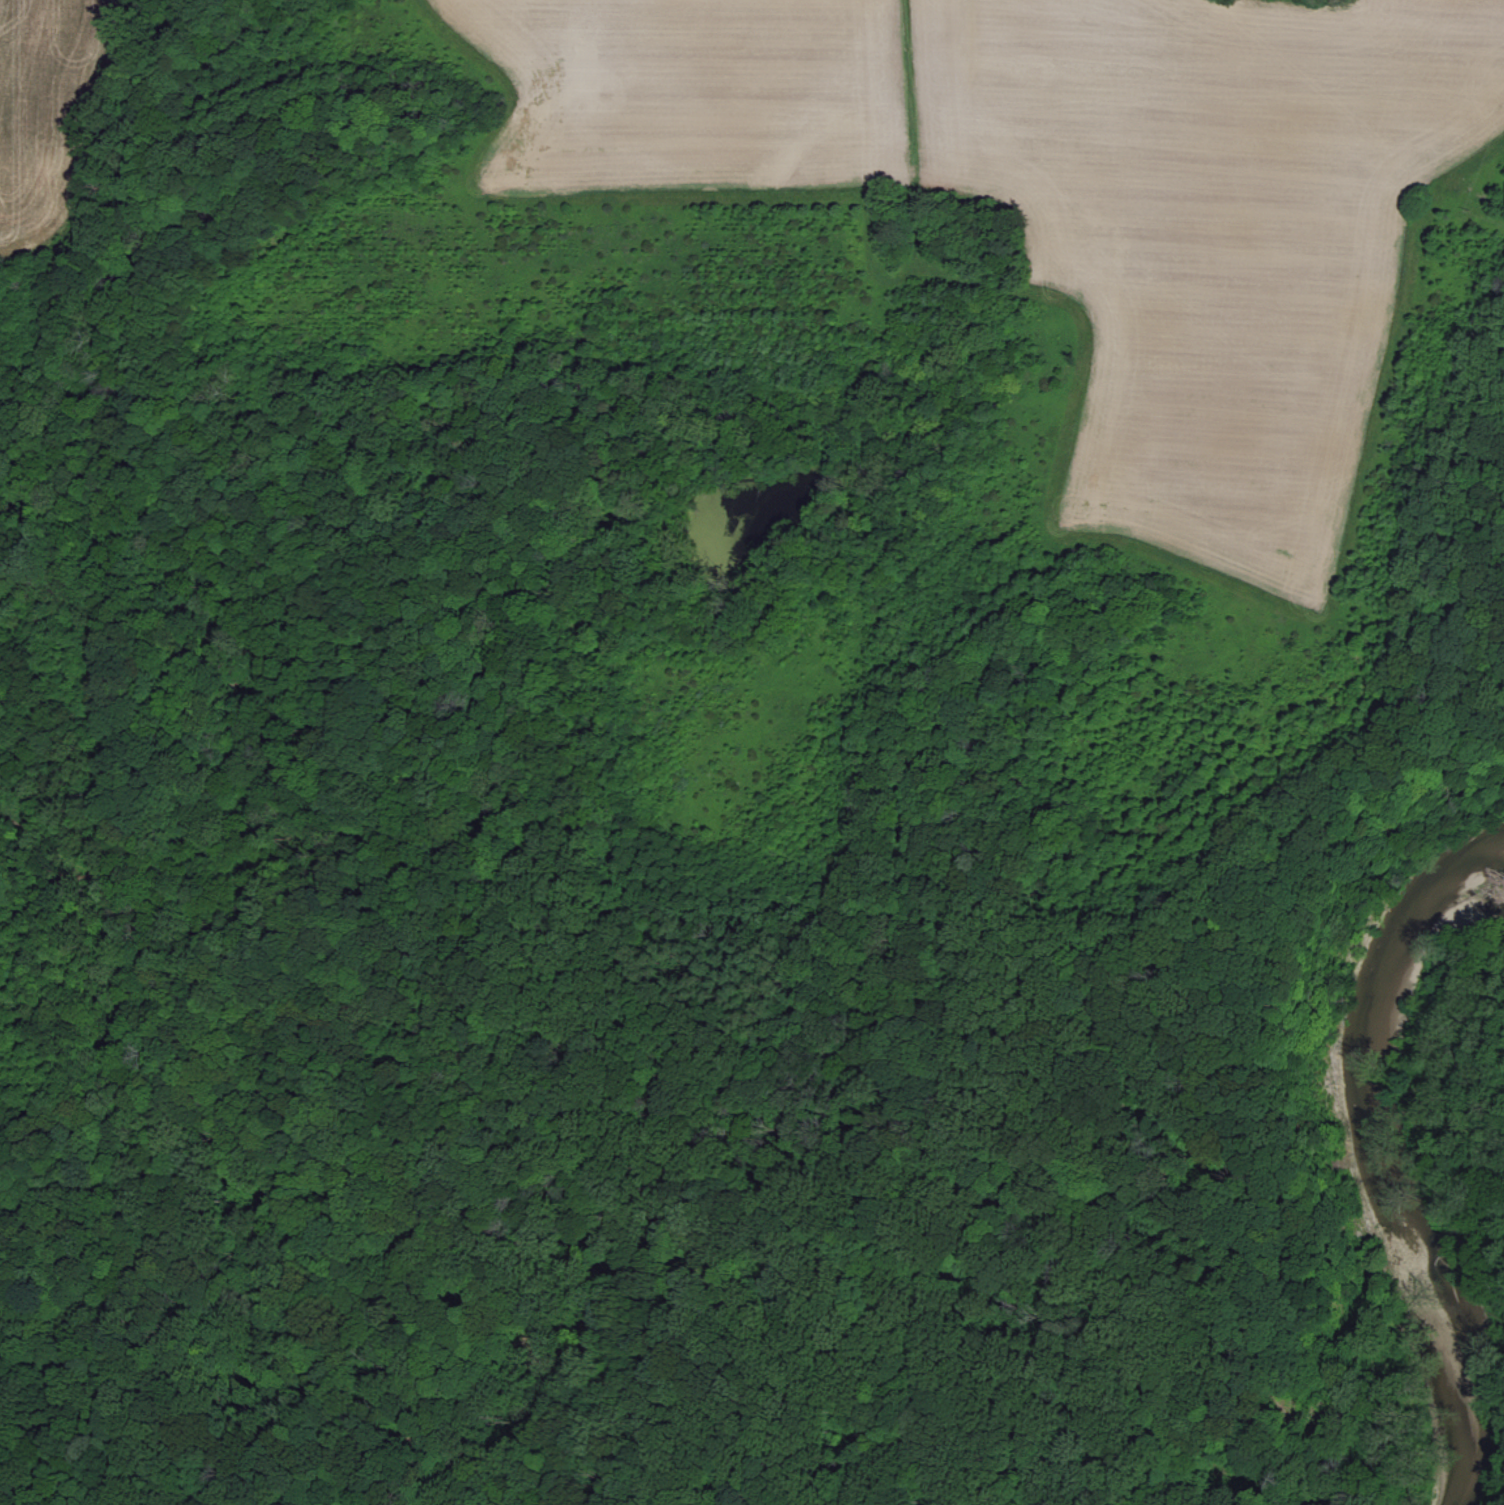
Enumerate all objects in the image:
river: (1375, 1167)

